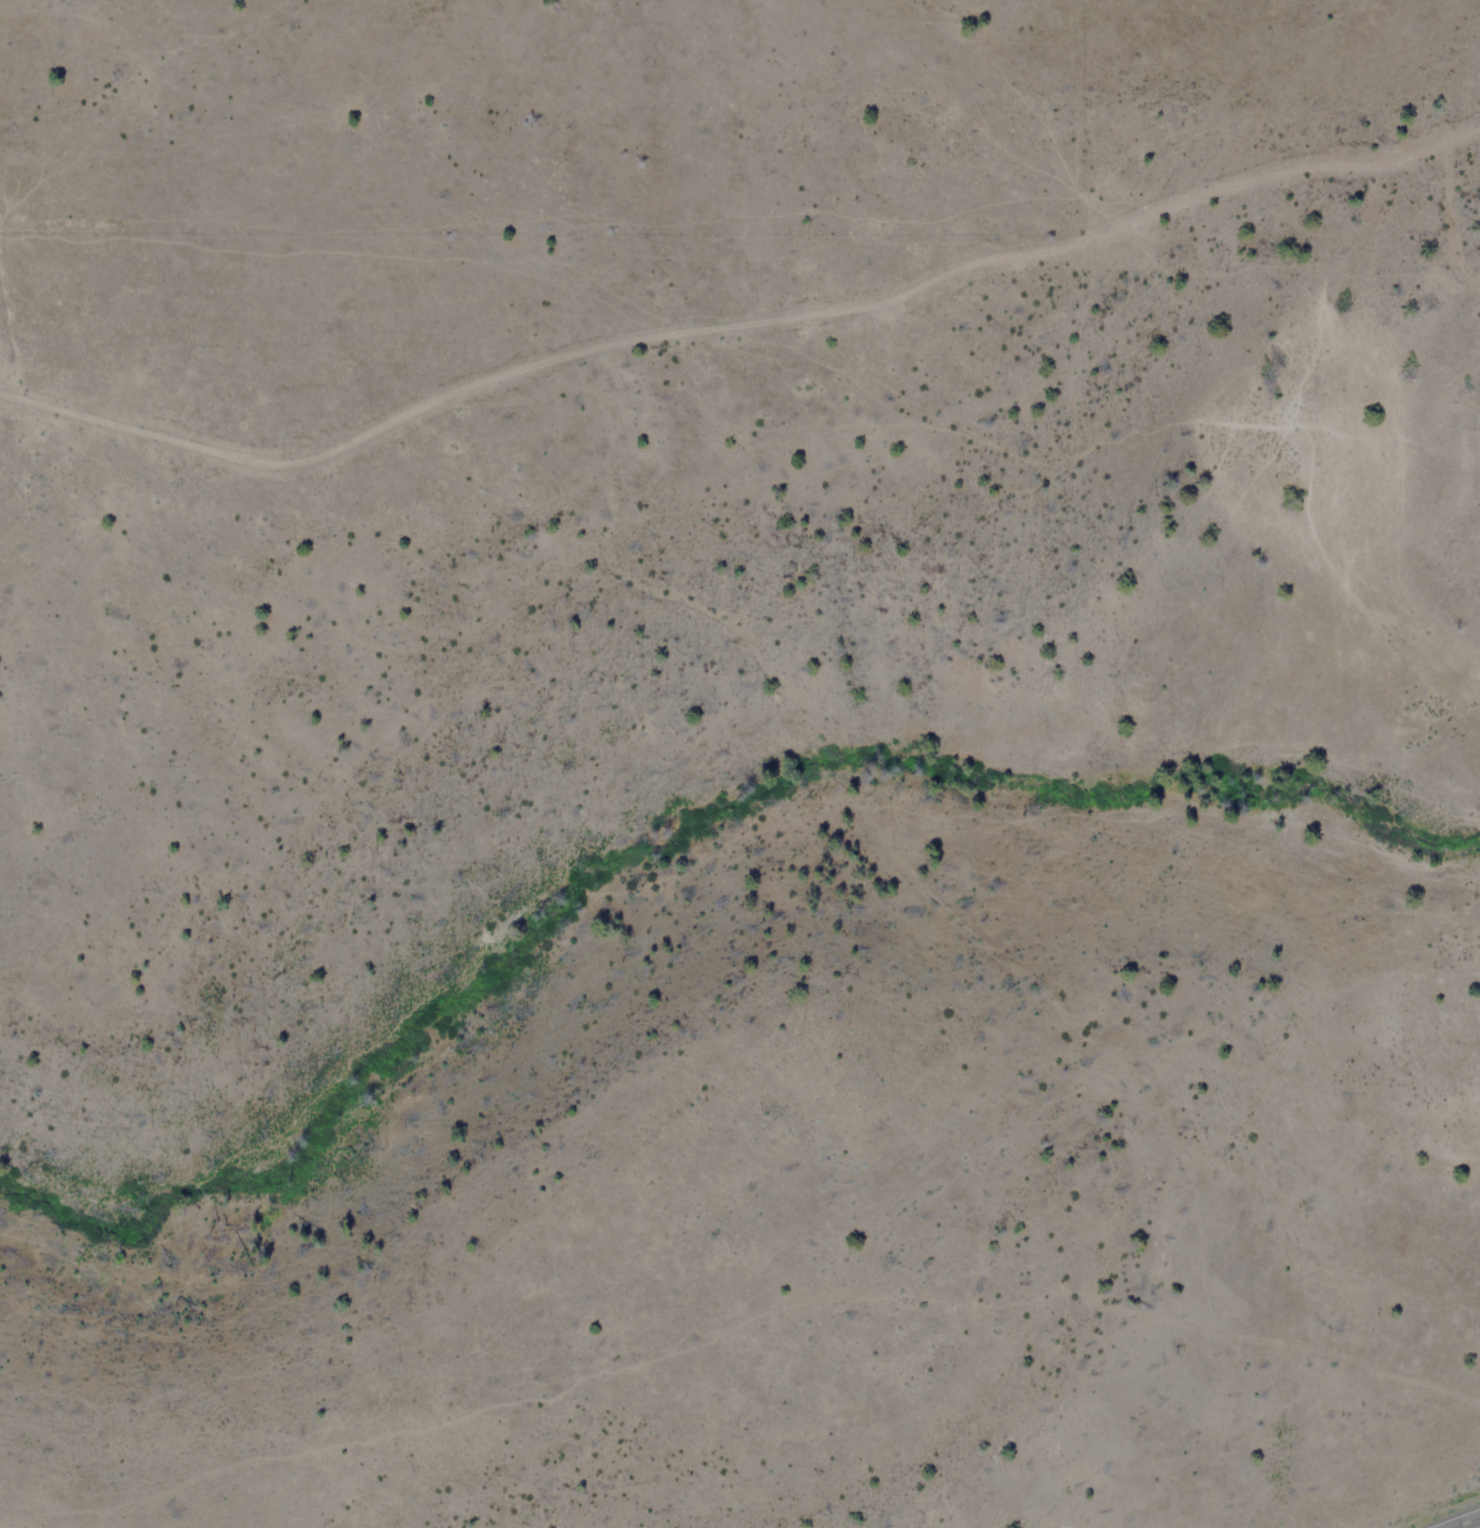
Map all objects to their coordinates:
road: (1463, 1521)

